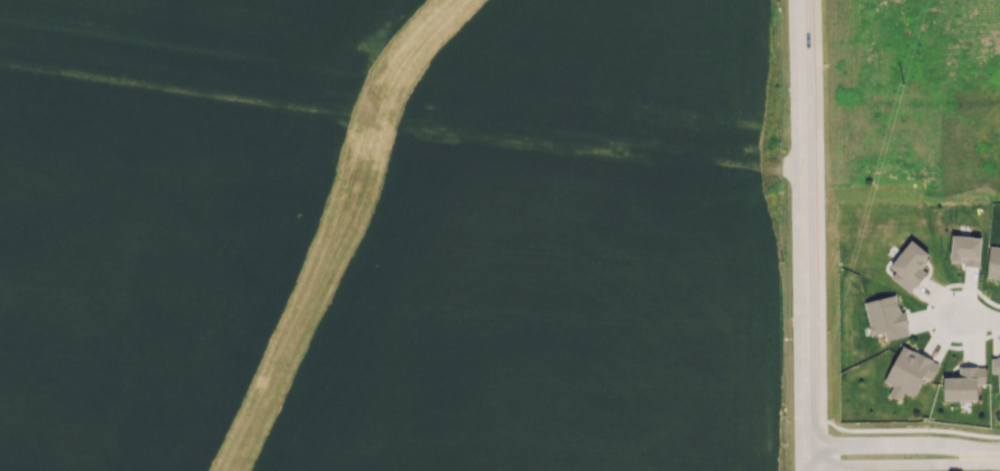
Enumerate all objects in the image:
road: (798, 64)
road: (790, 165)
road: (333, 231)
road: (820, 235)
building: (965, 250)
building: (993, 262)
building: (909, 266)
road: (801, 299)
road: (981, 308)
building: (886, 317)
building: (996, 367)
building: (909, 371)
building: (964, 383)
road: (901, 445)
road: (901, 465)

